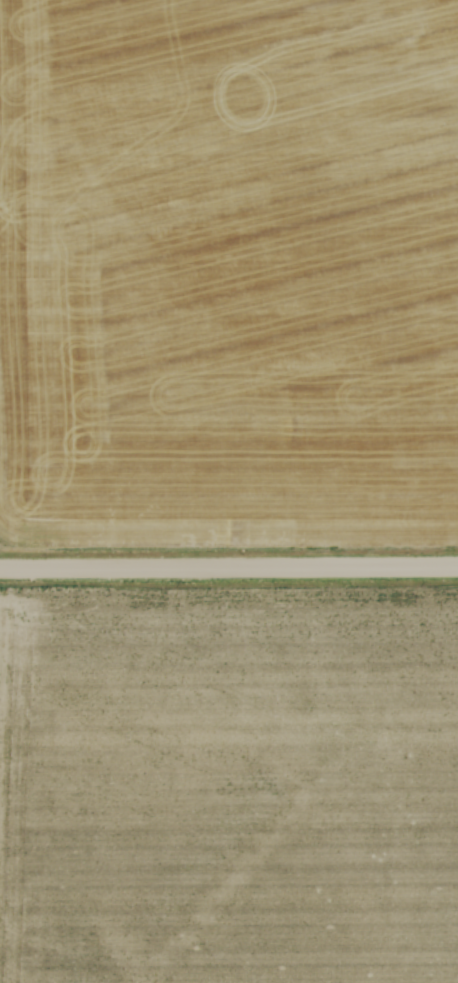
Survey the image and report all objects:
road: (229, 570)

